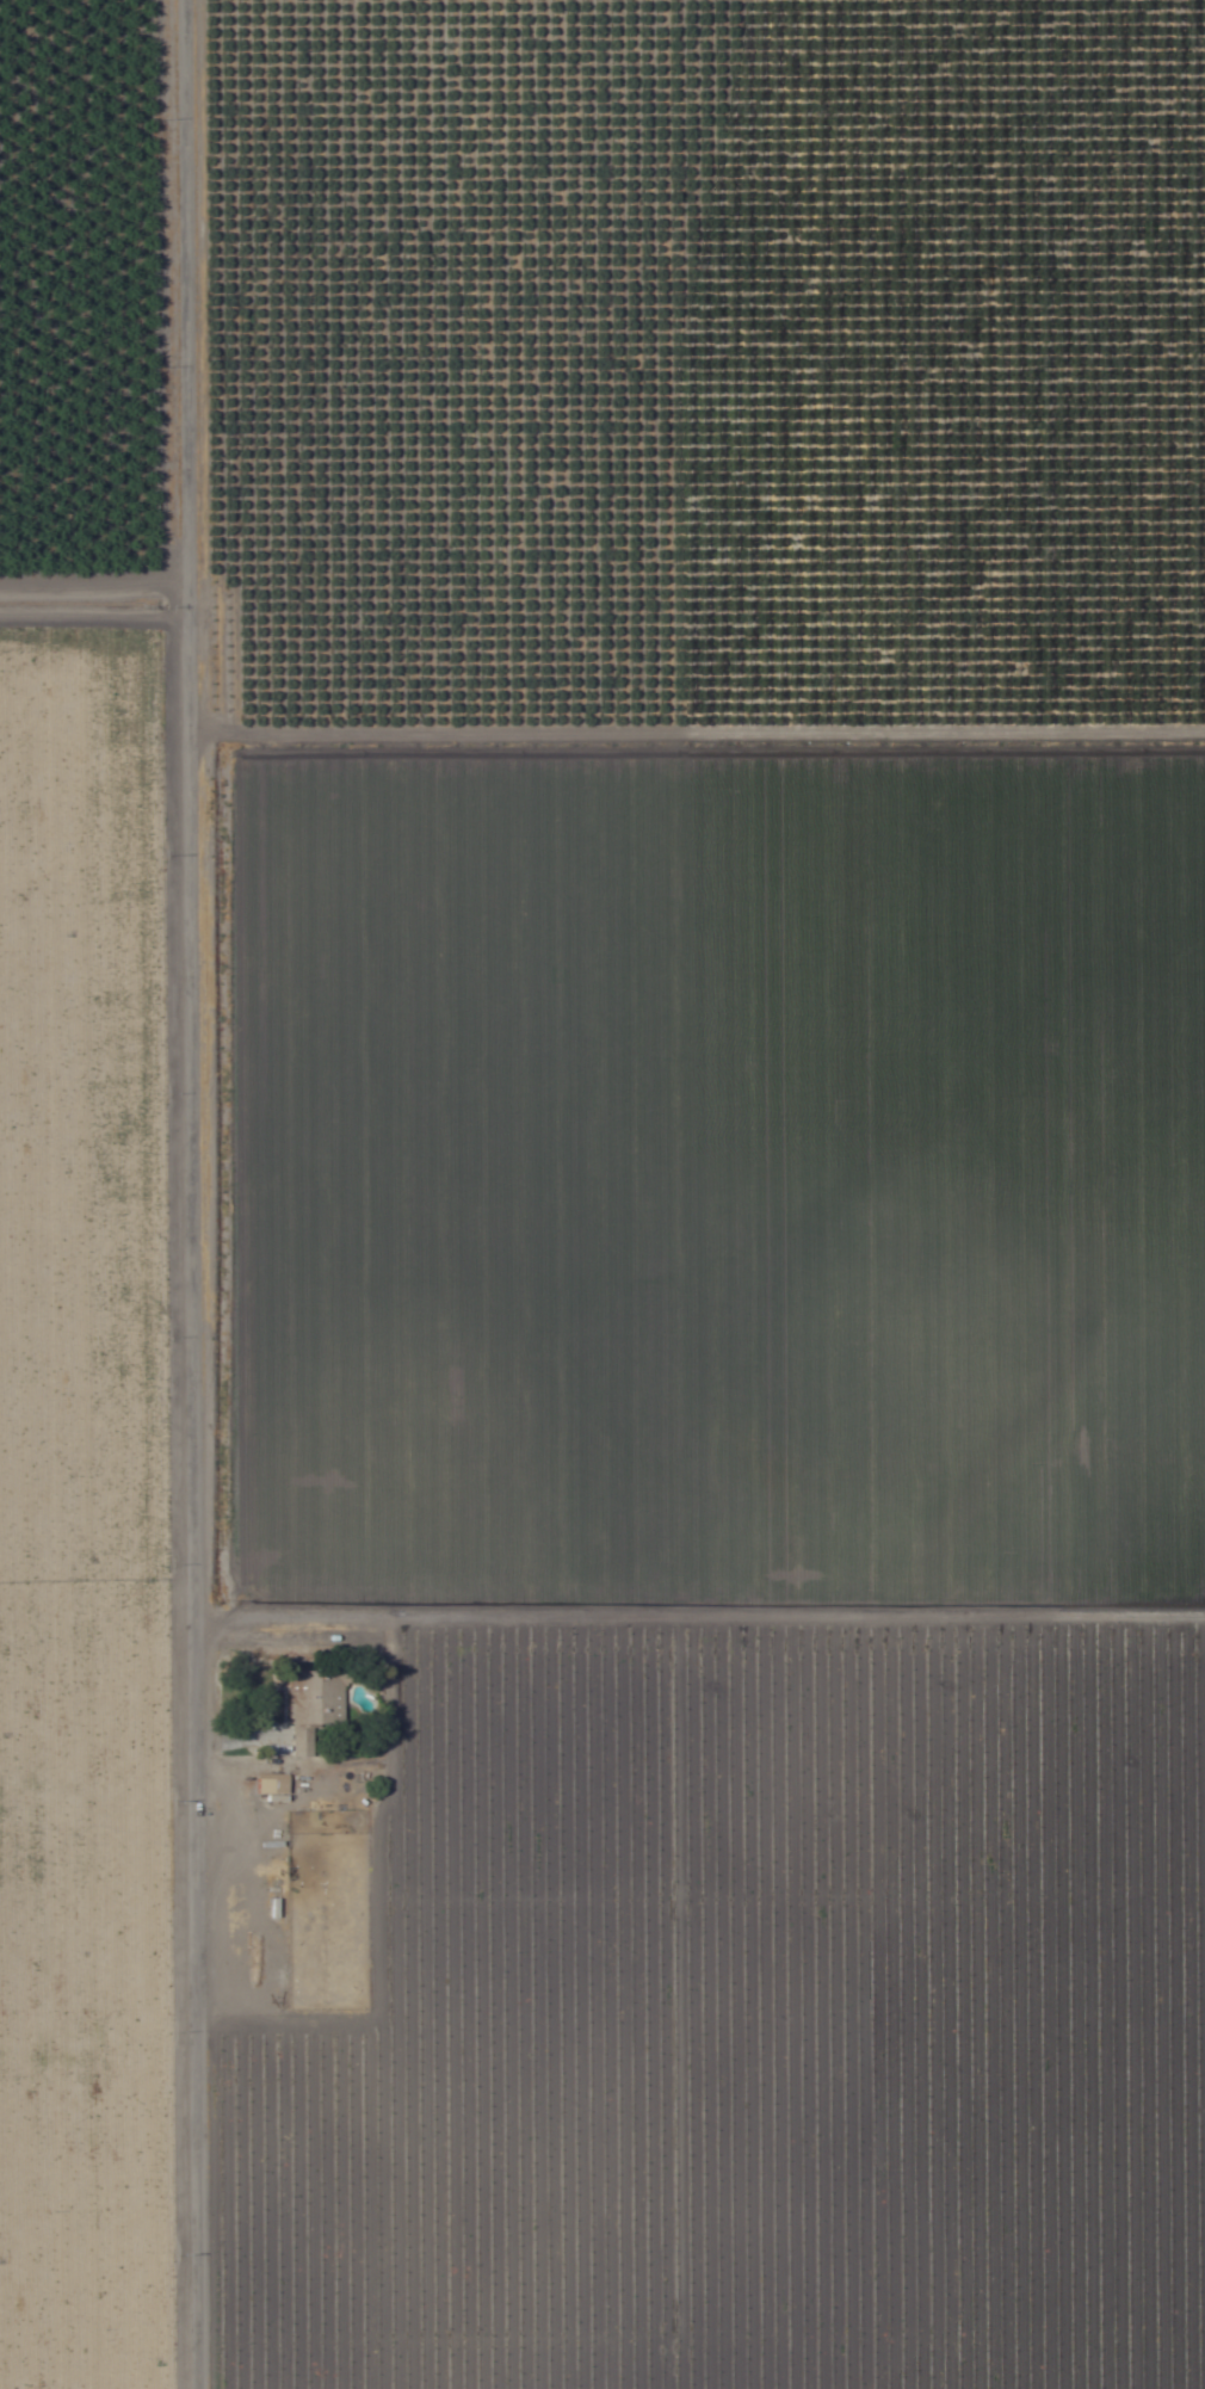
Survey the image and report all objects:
building: (1077, 192)
road: (196, 1193)
crop: (602, 1194)
building: (311, 1708)

